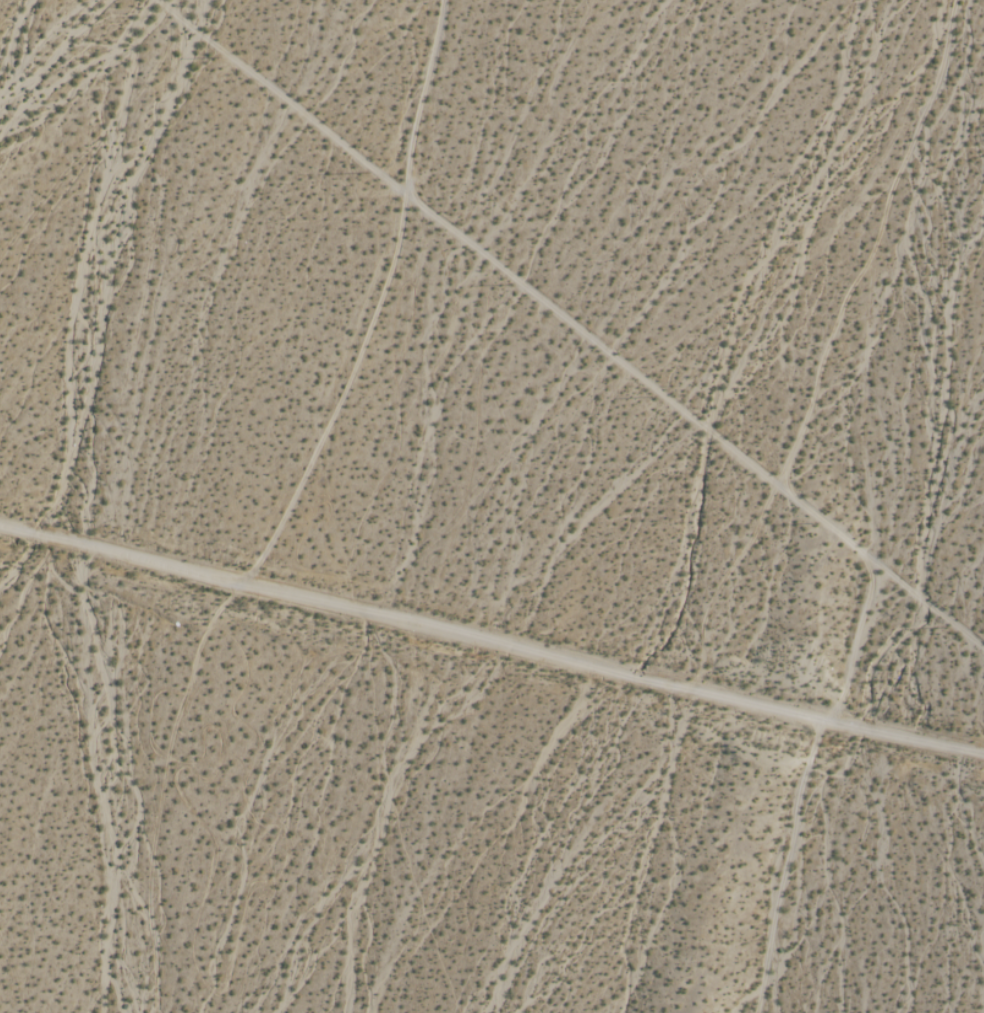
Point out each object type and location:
road: (492, 630)

